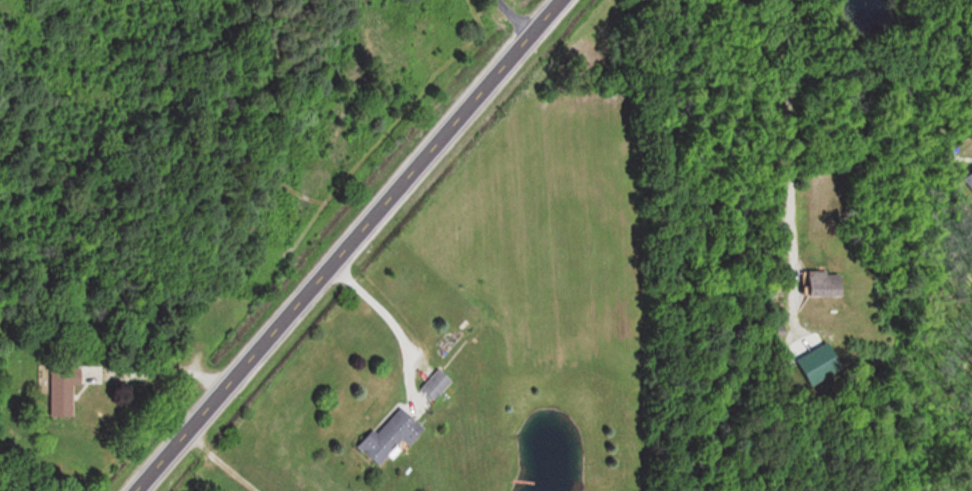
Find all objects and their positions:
road: (515, 15)
road: (790, 134)
building: (970, 174)
road: (344, 246)
building: (826, 283)
road: (387, 317)
road: (166, 368)
building: (60, 387)
building: (392, 435)
road: (217, 461)

